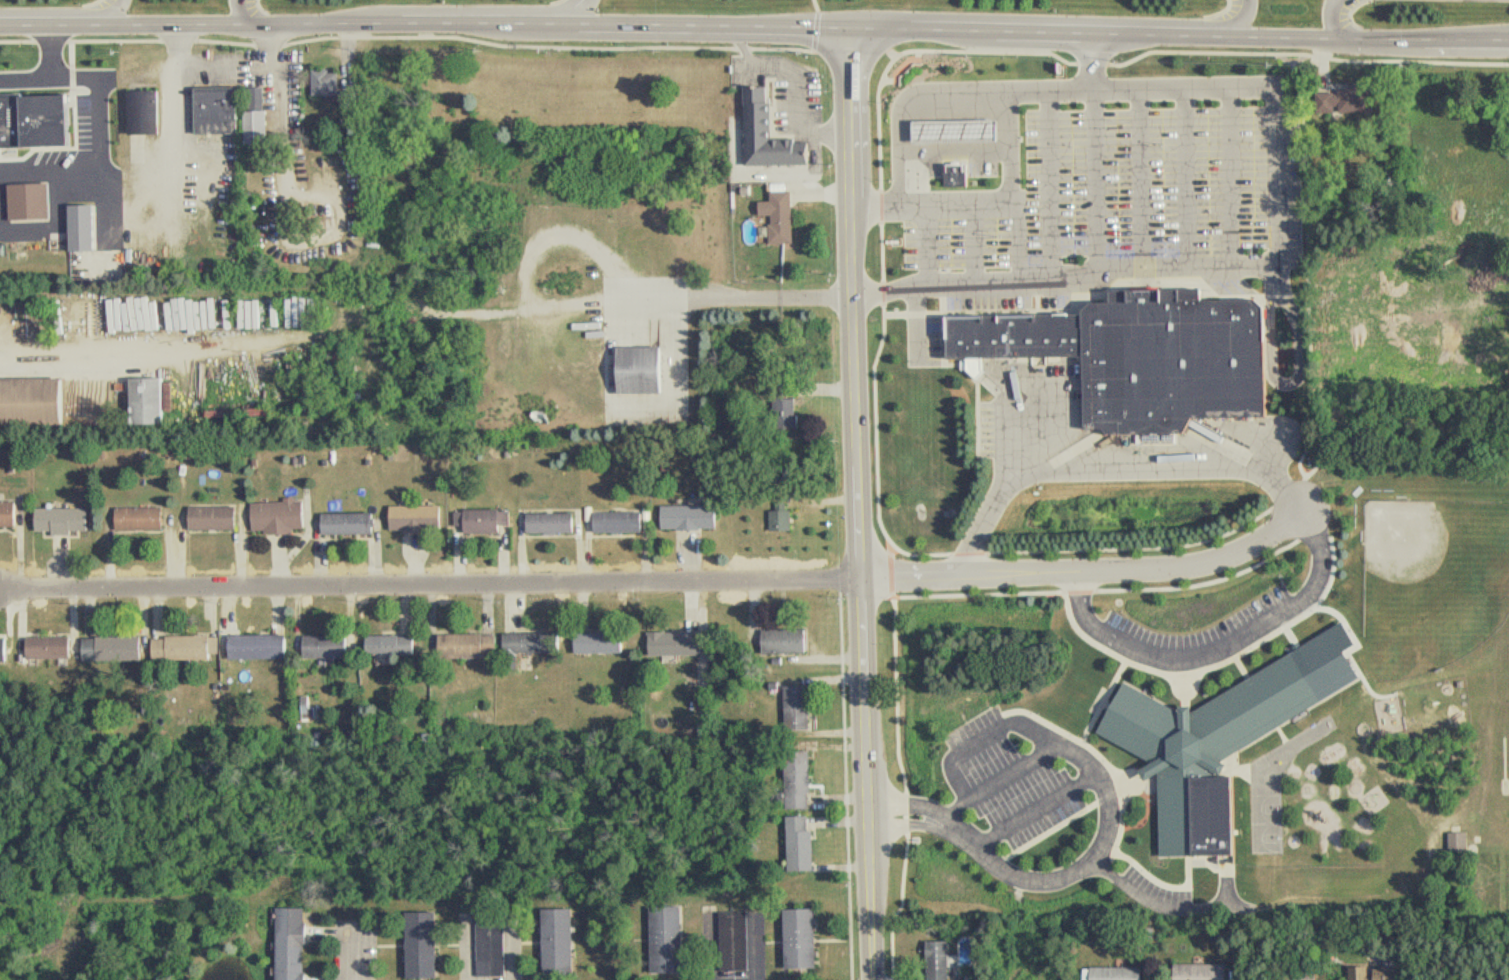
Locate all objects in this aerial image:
road: (590, 12)
road: (120, 13)
road: (245, 13)
road: (832, 13)
road: (1248, 19)
road: (1337, 20)
road: (754, 25)
road: (47, 51)
road: (1090, 61)
road: (216, 73)
road: (23, 80)
building: (324, 83)
road: (1225, 87)
building: (1343, 101)
building: (215, 110)
building: (142, 112)
building: (255, 117)
building: (43, 118)
building: (89, 125)
building: (953, 128)
building: (773, 132)
road: (99, 151)
road: (955, 151)
building: (956, 172)
road: (1230, 176)
road: (1185, 177)
road: (1141, 178)
road: (1096, 183)
road: (1052, 185)
building: (39, 201)
road: (876, 205)
building: (778, 216)
building: (91, 228)
road: (1278, 273)
road: (599, 302)
road: (266, 343)
building: (1139, 355)
building: (646, 367)
road: (1285, 383)
building: (35, 392)
building: (156, 404)
building: (784, 414)
road: (1004, 448)
road: (1105, 469)
road: (864, 503)
building: (8, 513)
building: (402, 515)
building: (429, 515)
building: (673, 515)
building: (701, 515)
building: (285, 516)
building: (75, 517)
building: (126, 517)
building: (149, 517)
building: (200, 517)
building: (223, 517)
building: (490, 517)
building: (47, 518)
building: (560, 521)
building: (629, 521)
building: (779, 521)
building: (335, 522)
building: (359, 522)
building: (536, 522)
building: (605, 522)
road: (1090, 572)
road: (433, 584)
building: (795, 639)
building: (771, 640)
building: (538, 641)
building: (475, 643)
building: (604, 643)
building: (336, 644)
building: (681, 644)
building: (269, 645)
building: (312, 645)
building: (402, 645)
road: (1219, 645)
building: (242, 646)
building: (36, 647)
building: (59, 647)
building: (97, 647)
building: (124, 647)
building: (2, 650)
building: (803, 707)
building: (1210, 748)
road: (1009, 772)
building: (804, 778)
road: (1102, 786)
road: (913, 805)
road: (1035, 813)
road: (949, 822)
road: (907, 824)
building: (1456, 843)
building: (798, 844)
road: (1155, 904)
building: (674, 933)
building: (563, 937)
building: (806, 938)
building: (740, 939)
building: (497, 942)
building: (297, 944)
building: (431, 944)
road: (469, 949)
road: (513, 950)
building: (945, 958)
road: (356, 959)
building: (1390, 969)
building: (1205, 971)
building: (1121, 972)
building: (1301, 975)

